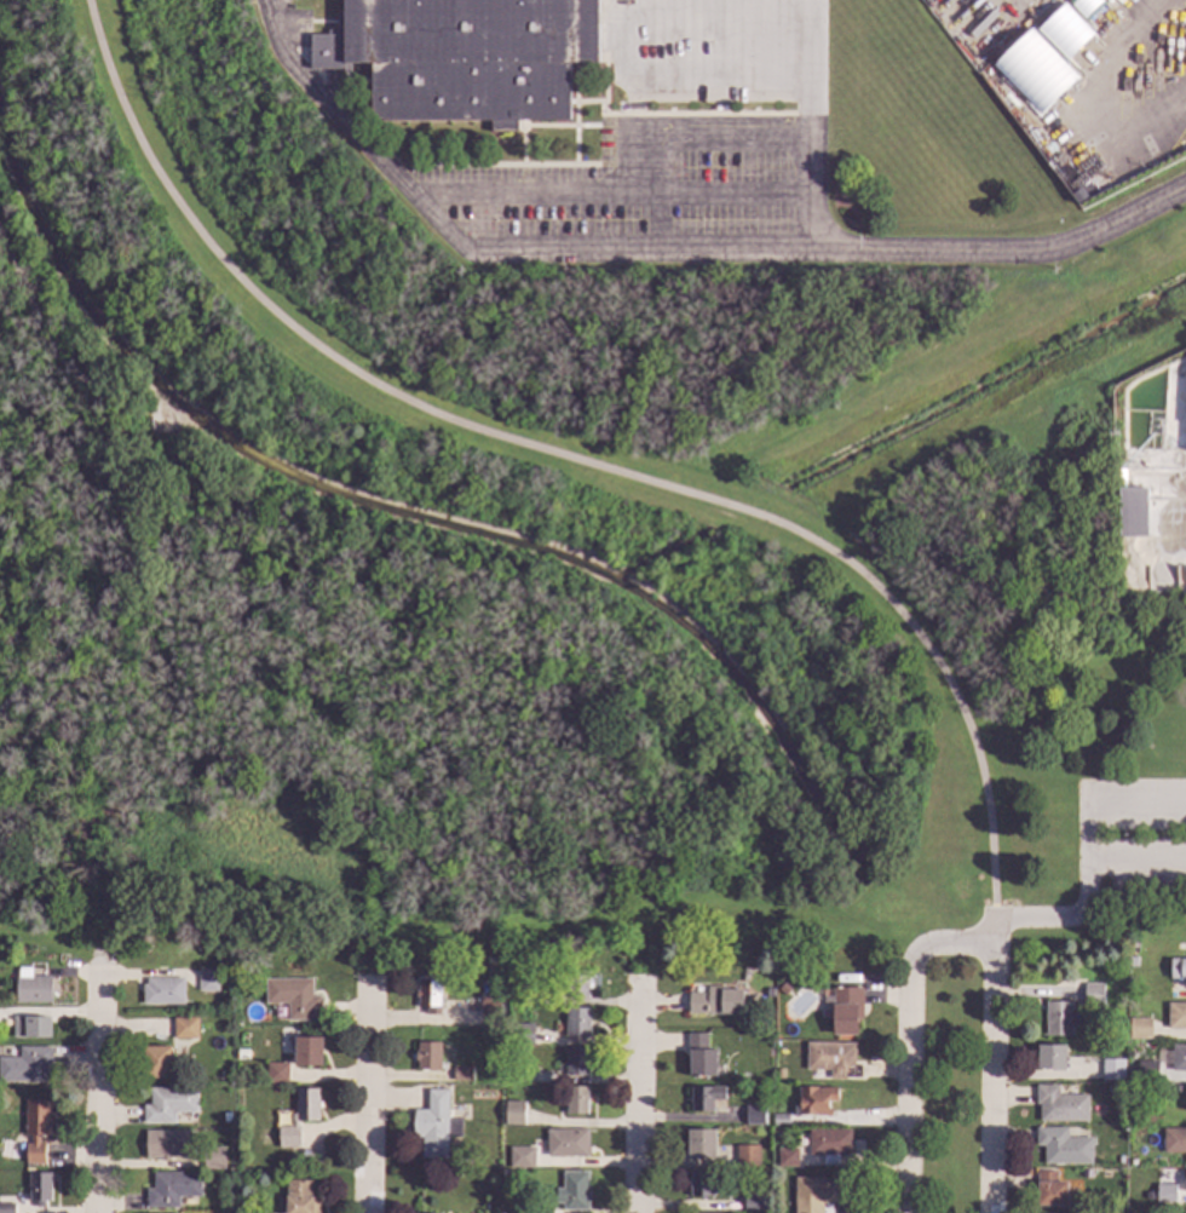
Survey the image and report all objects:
road: (271, 5)
road: (276, 5)
building: (1084, 6)
building: (1065, 33)
building: (471, 56)
road: (814, 63)
building: (1034, 71)
road: (695, 127)
road: (813, 159)
road: (526, 189)
road: (725, 189)
road: (813, 222)
road: (1008, 253)
road: (476, 269)
road: (564, 455)
road: (134, 476)
building: (1132, 512)
park: (511, 556)
park: (1150, 765)
parking lot: (1130, 832)
road: (1088, 851)
road: (1136, 858)
road: (994, 929)
building: (1132, 961)
building: (1178, 967)
building: (1119, 979)
building: (207, 981)
building: (577, 983)
building: (33, 989)
building: (783, 989)
building: (162, 990)
building: (530, 993)
building: (1092, 994)
building: (428, 996)
building: (294, 998)
building: (715, 1001)
building: (845, 1008)
building: (490, 1010)
building: (1142, 1014)
building: (1175, 1016)
building: (785, 1017)
building: (1059, 1018)
building: (577, 1022)
building: (236, 1023)
building: (30, 1027)
building: (184, 1028)
building: (1139, 1029)
building: (519, 1033)
road: (906, 1039)
building: (503, 1048)
building: (307, 1051)
building: (238, 1053)
building: (699, 1054)
building: (427, 1056)
building: (1050, 1057)
building: (1178, 1057)
building: (834, 1059)
building: (156, 1062)
building: (574, 1062)
building: (24, 1064)
building: (1112, 1069)
building: (513, 1070)
building: (1147, 1071)
building: (276, 1073)
building: (461, 1073)
building: (778, 1073)
building: (1132, 1074)
road: (991, 1079)
building: (1112, 1087)
road: (98, 1088)
building: (765, 1088)
road: (370, 1092)
building: (484, 1094)
road: (637, 1094)
building: (704, 1097)
building: (813, 1098)
building: (576, 1099)
building: (168, 1104)
building: (1059, 1104)
building: (513, 1111)
building: (754, 1115)
building: (298, 1117)
building: (781, 1119)
building: (434, 1125)
building: (35, 1129)
building: (1174, 1139)
building: (566, 1143)
building: (699, 1143)
building: (166, 1144)
building: (828, 1144)
building: (1063, 1146)
building: (747, 1156)
building: (213, 1157)
building: (520, 1157)
building: (787, 1157)
building: (1119, 1160)
building: (1133, 1162)
building: (1086, 1172)
building: (506, 1173)
building: (1185, 1180)
building: (701, 1183)
building: (39, 1188)
building: (172, 1189)
building: (1049, 1189)
building: (575, 1190)
building: (818, 1192)
building: (1164, 1192)
building: (298, 1198)
building: (753, 1203)
building: (6, 1208)

